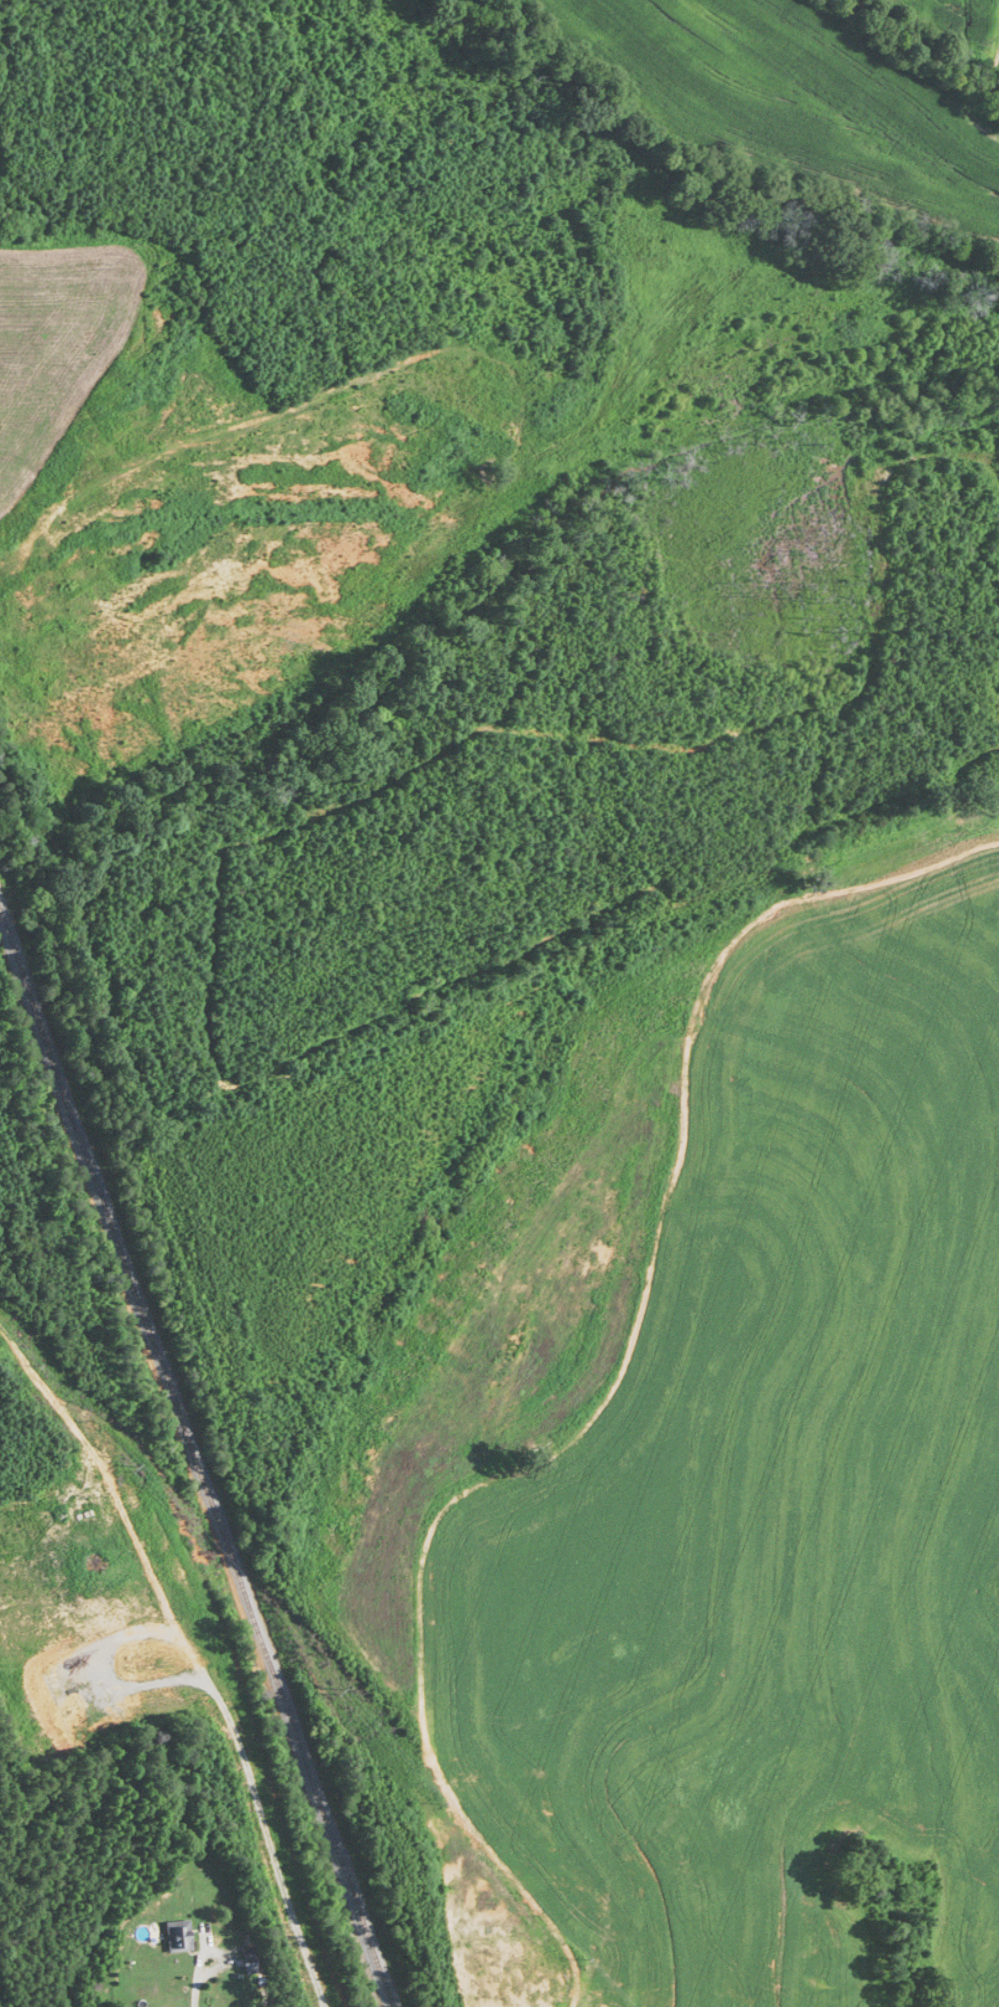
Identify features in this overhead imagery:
railway: (195, 1463)
building: (180, 1935)
building: (254, 1960)
road: (198, 1979)

